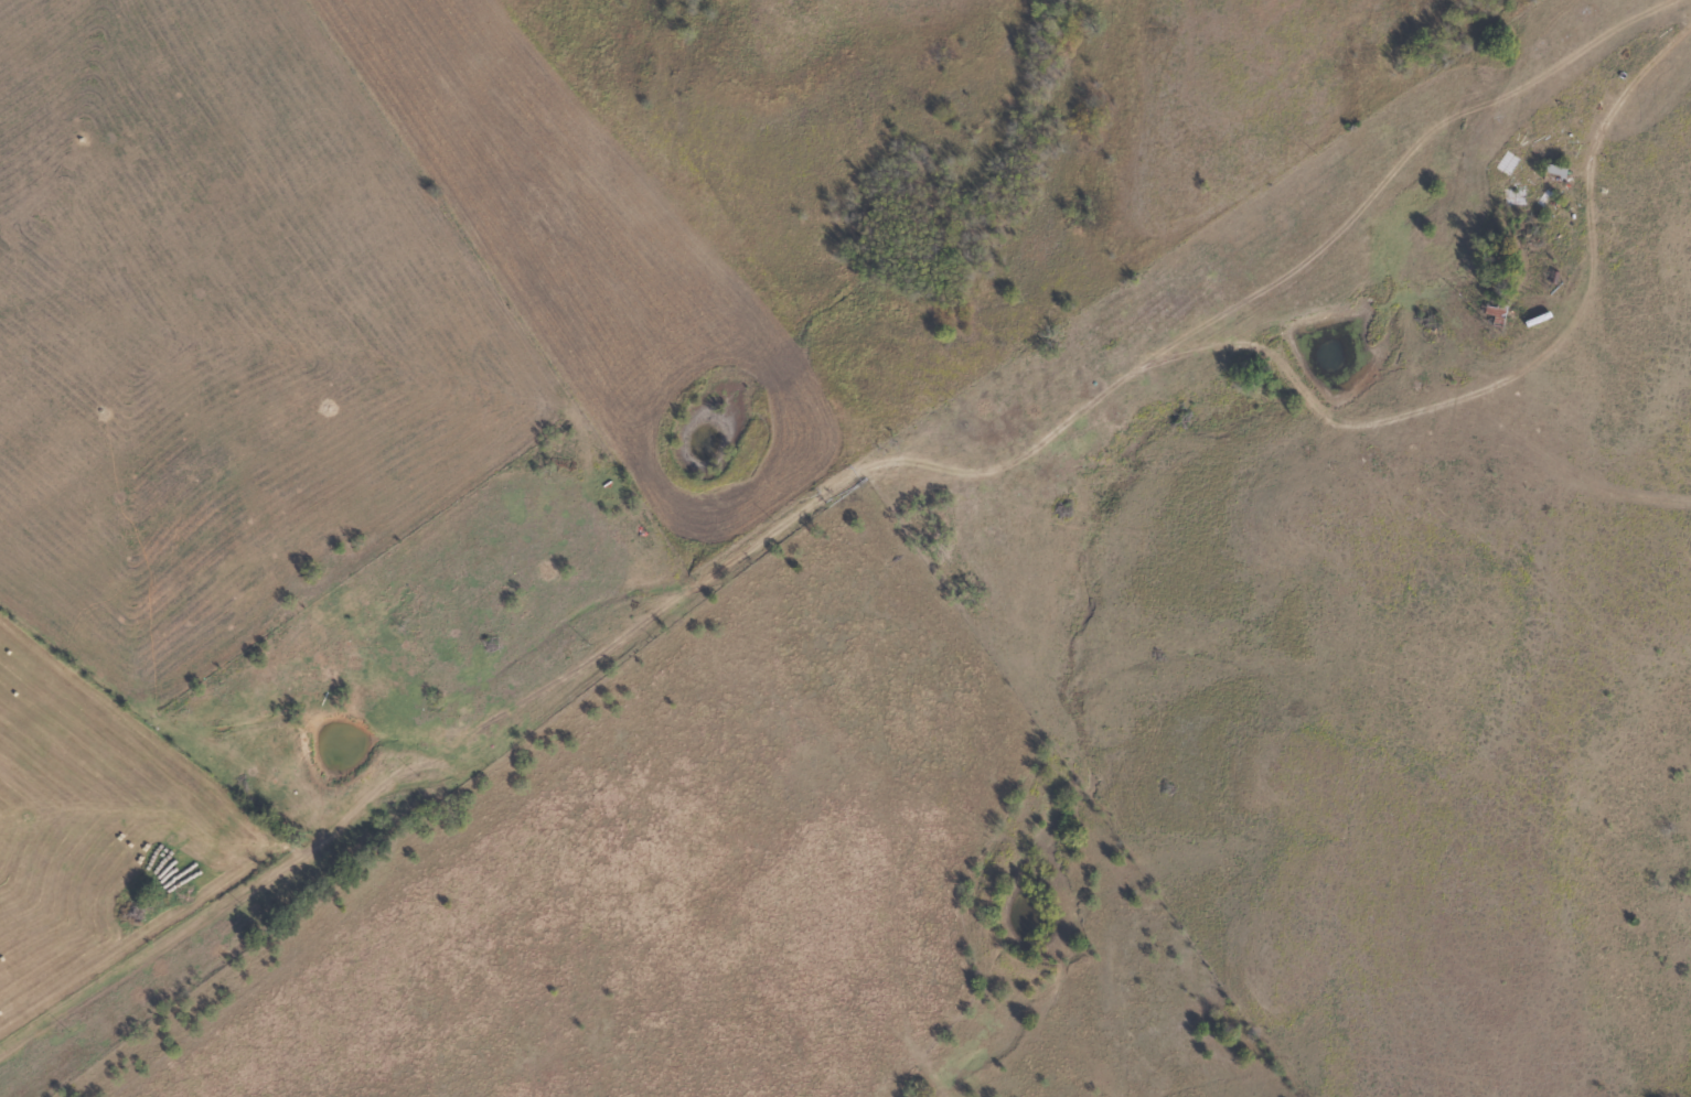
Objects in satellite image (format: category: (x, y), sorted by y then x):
building: (1551, 173)
road: (1586, 176)
building: (1515, 198)
building: (1495, 313)

